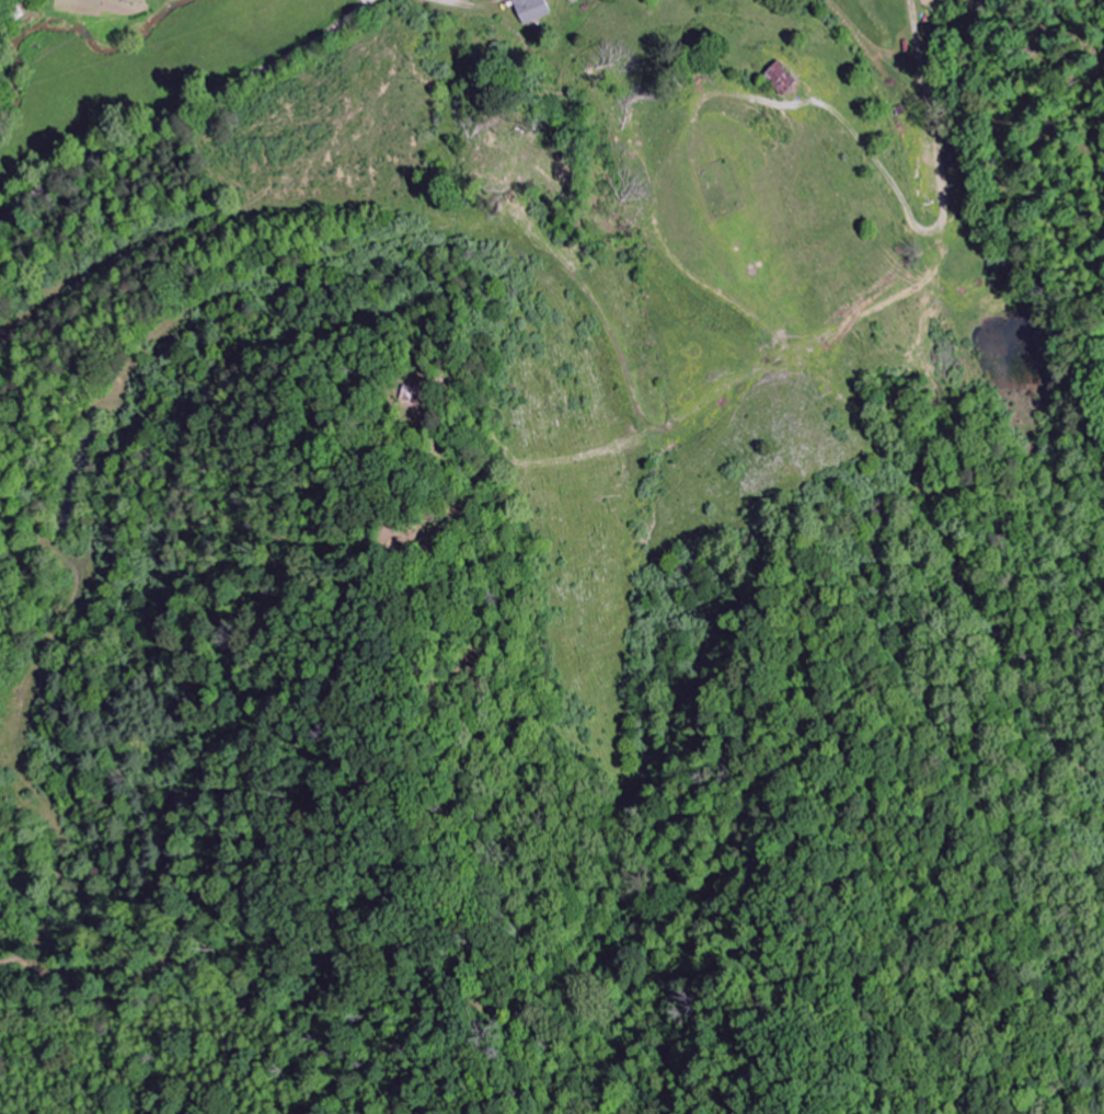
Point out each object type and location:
building: (531, 10)
building: (783, 79)
road: (180, 112)

